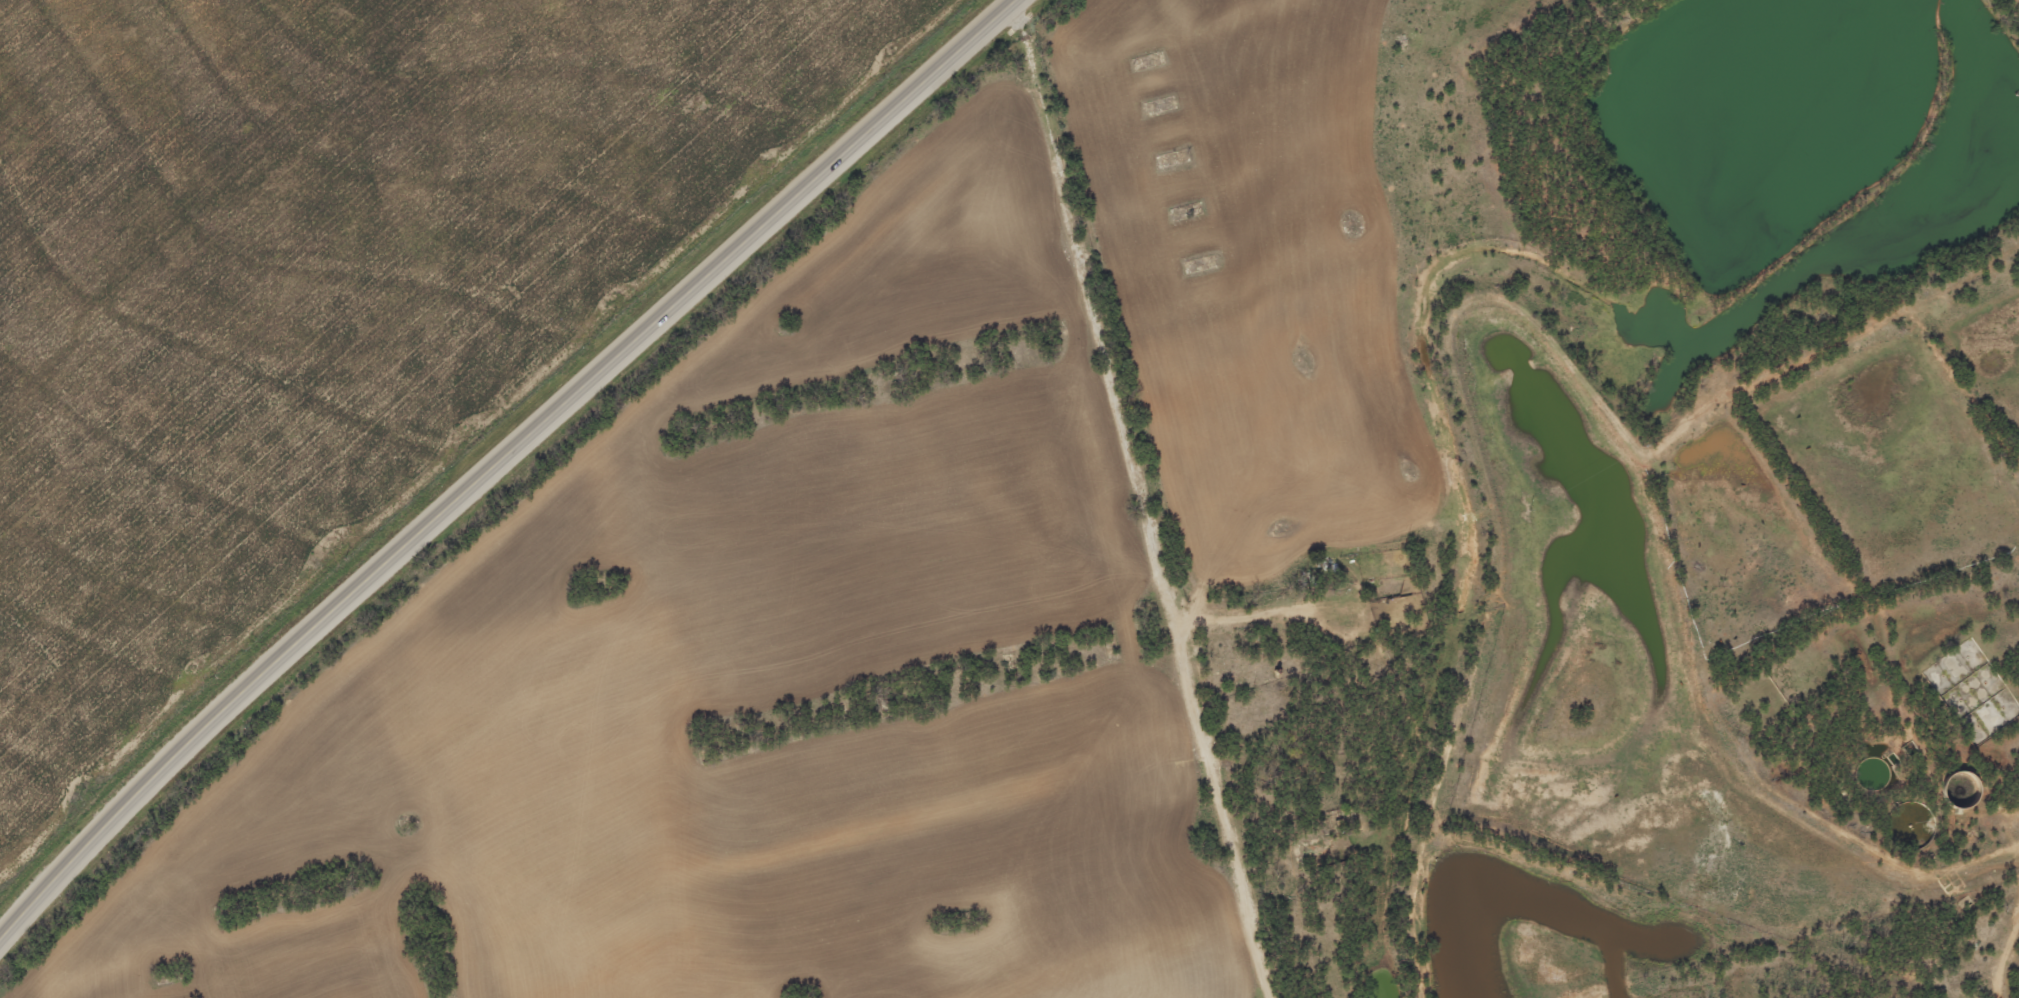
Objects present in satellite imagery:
road: (500, 459)
road: (1142, 499)

